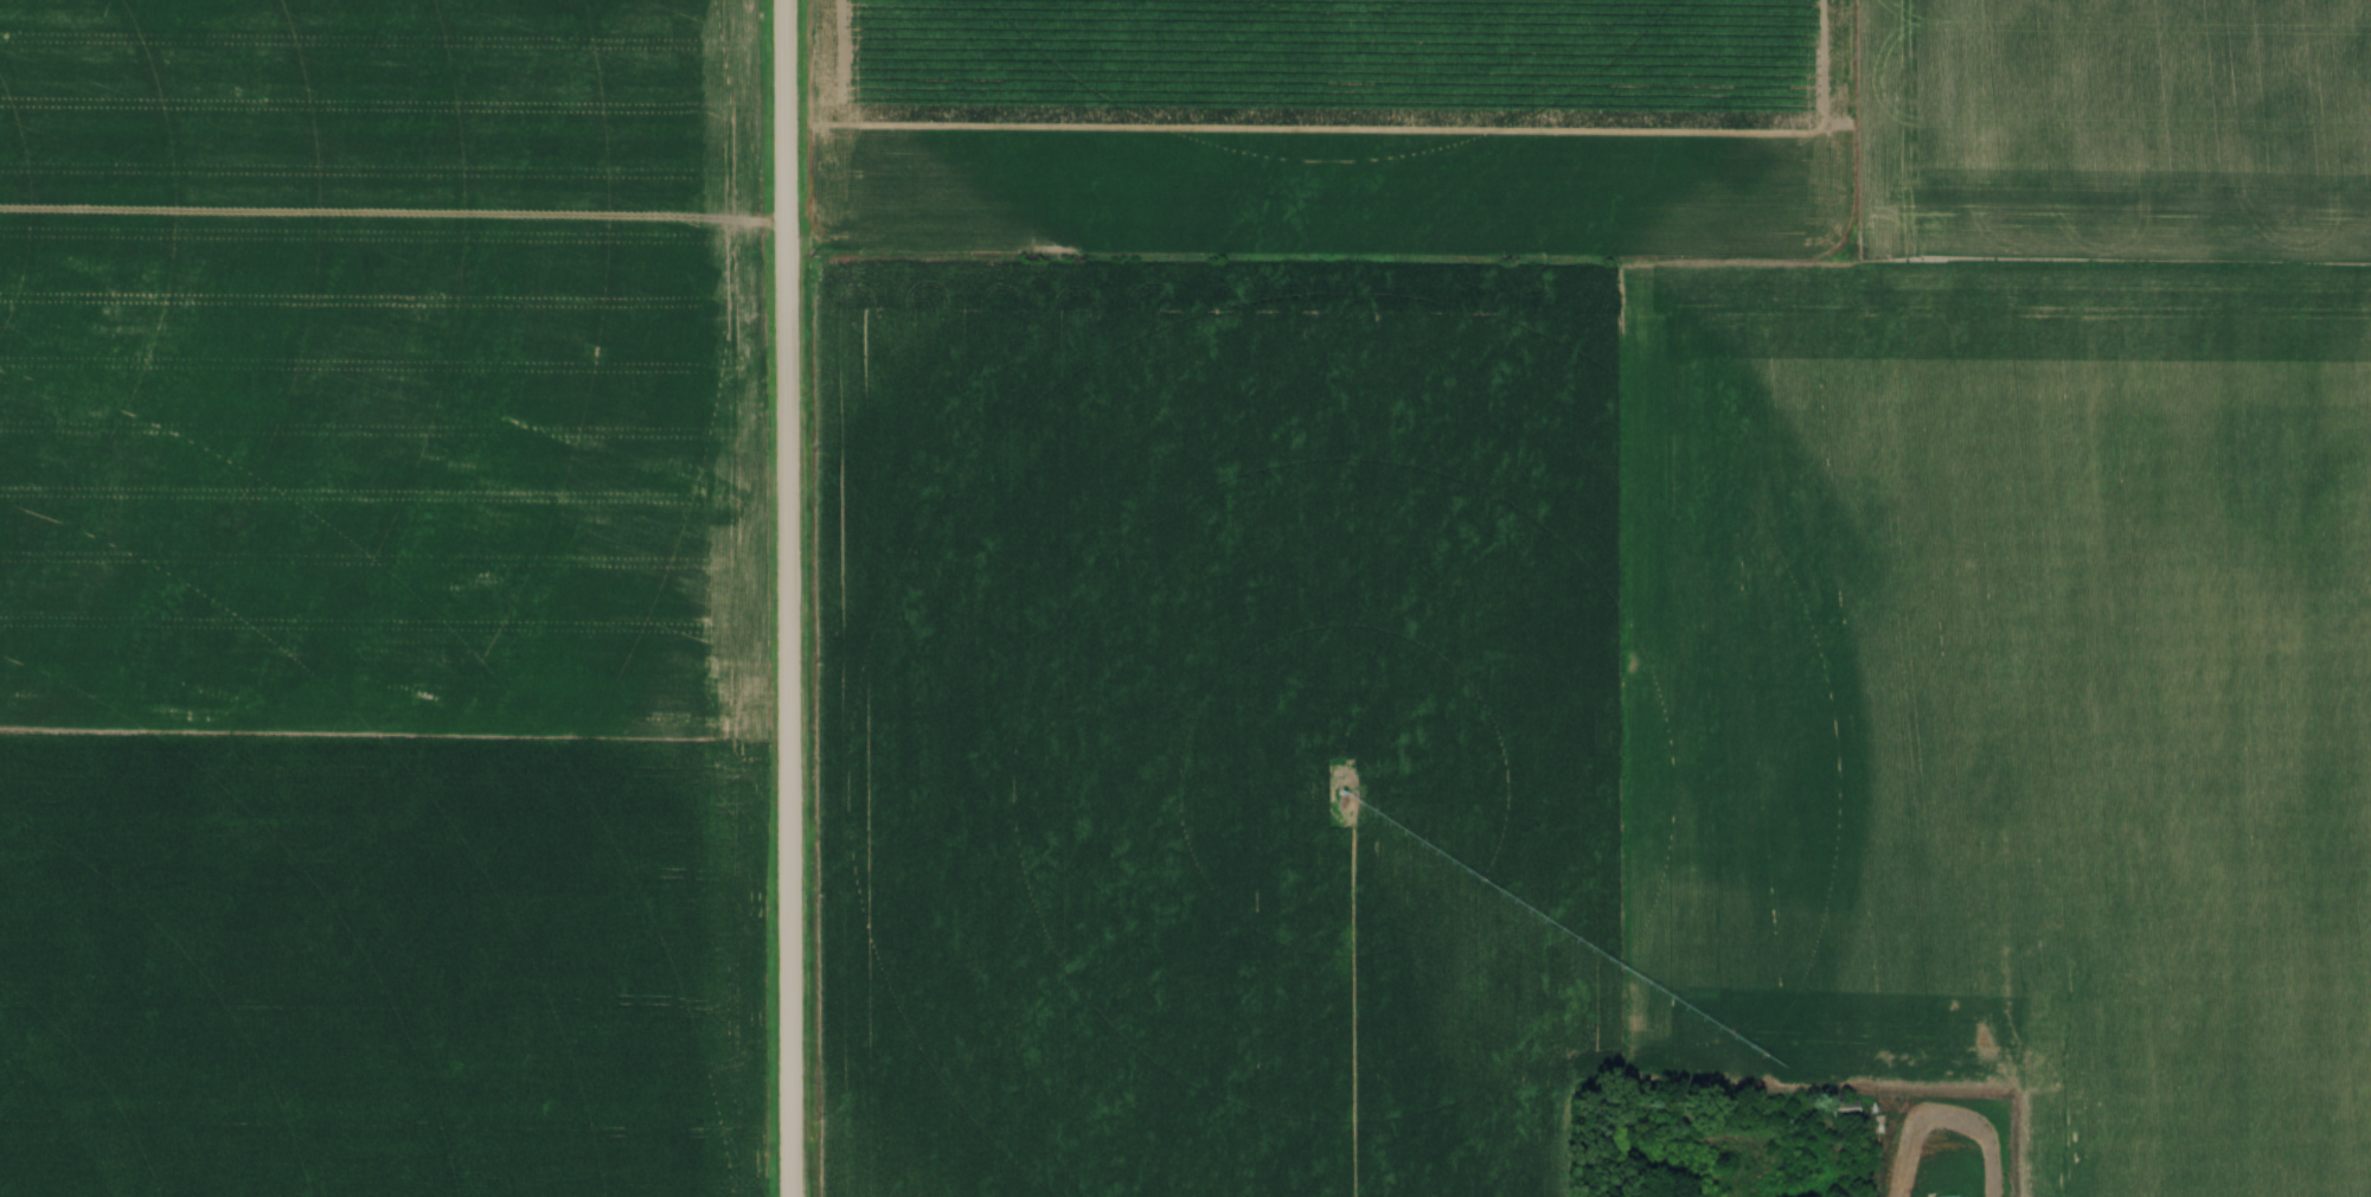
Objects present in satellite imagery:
road: (788, 597)

